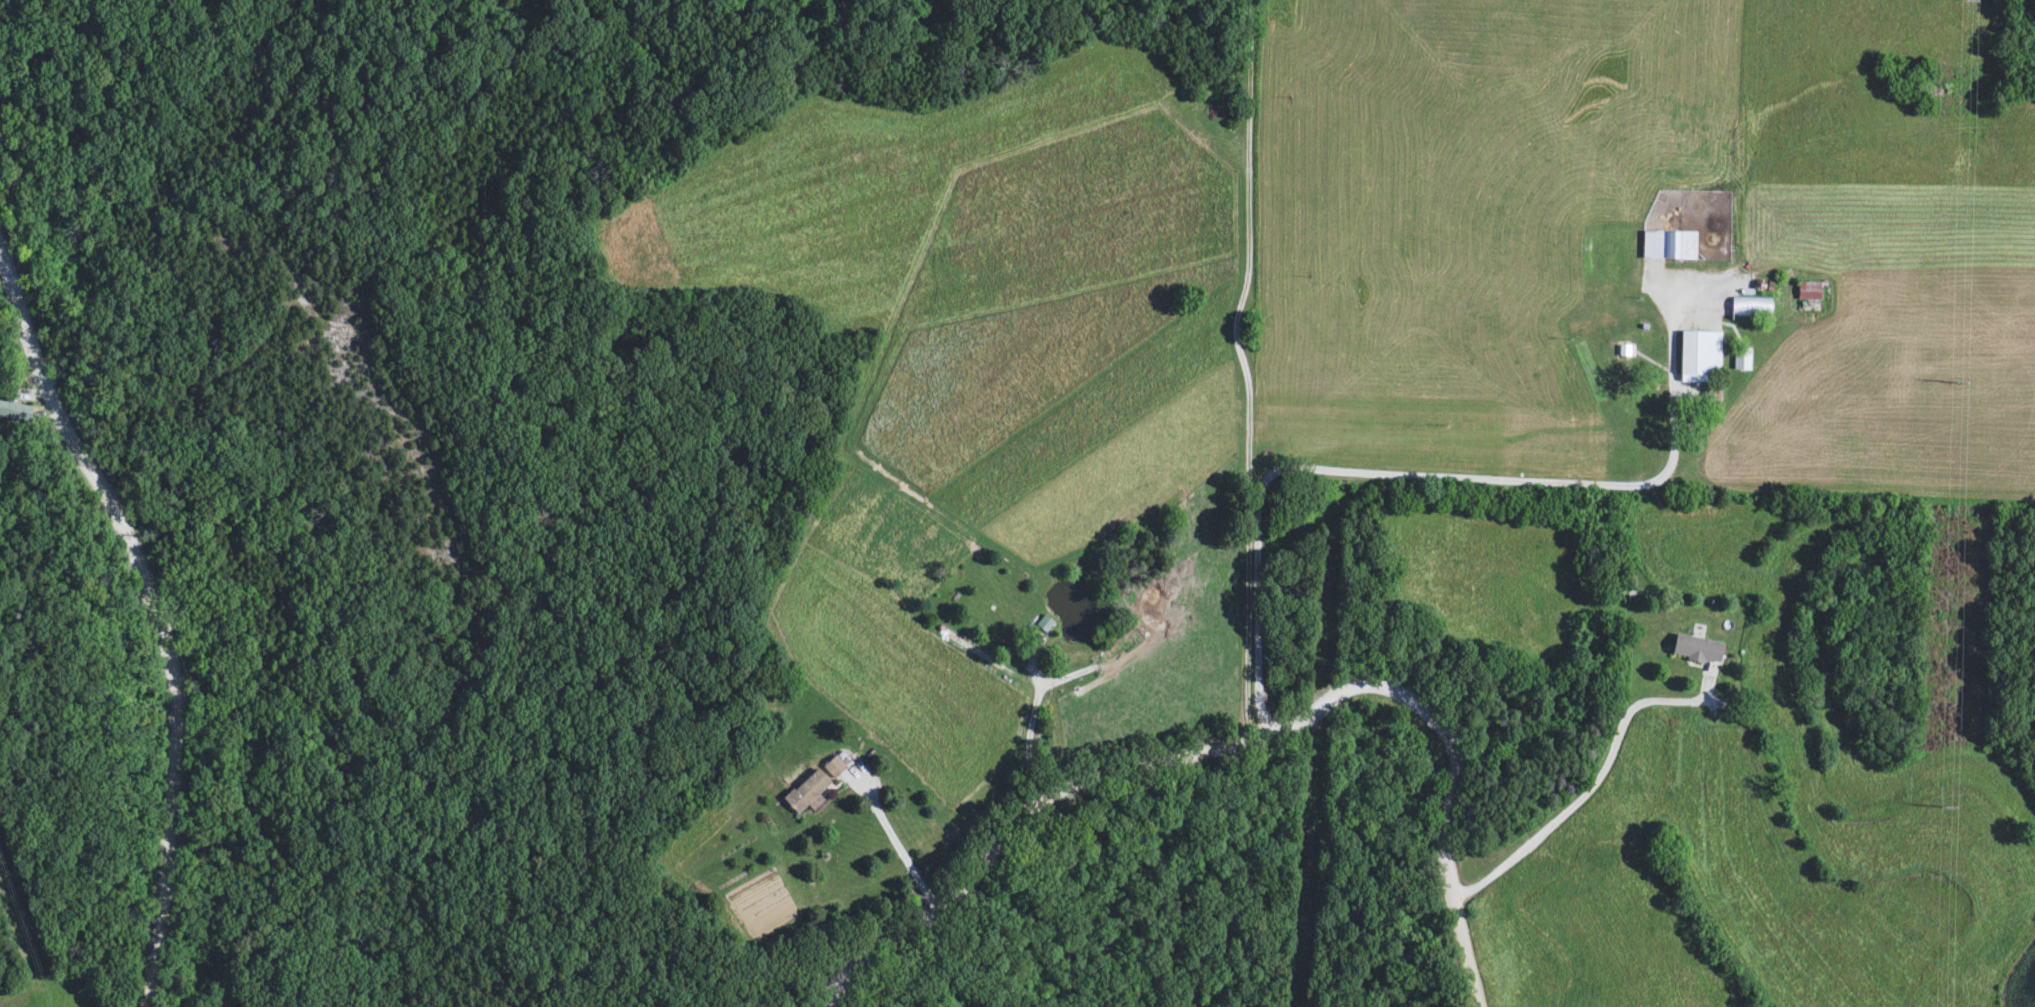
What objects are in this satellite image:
power tower: (1965, 4)
building: (1669, 247)
road: (3, 255)
building: (1751, 308)
building: (1700, 355)
building: (1742, 360)
road: (1247, 367)
power tower: (1961, 383)
building: (1713, 396)
building: (15, 413)
road: (1429, 480)
road: (155, 606)
building: (1698, 650)
road: (1240, 737)
building: (835, 769)
road: (1588, 791)
building: (807, 795)
power tower: (1947, 808)
road: (900, 851)

